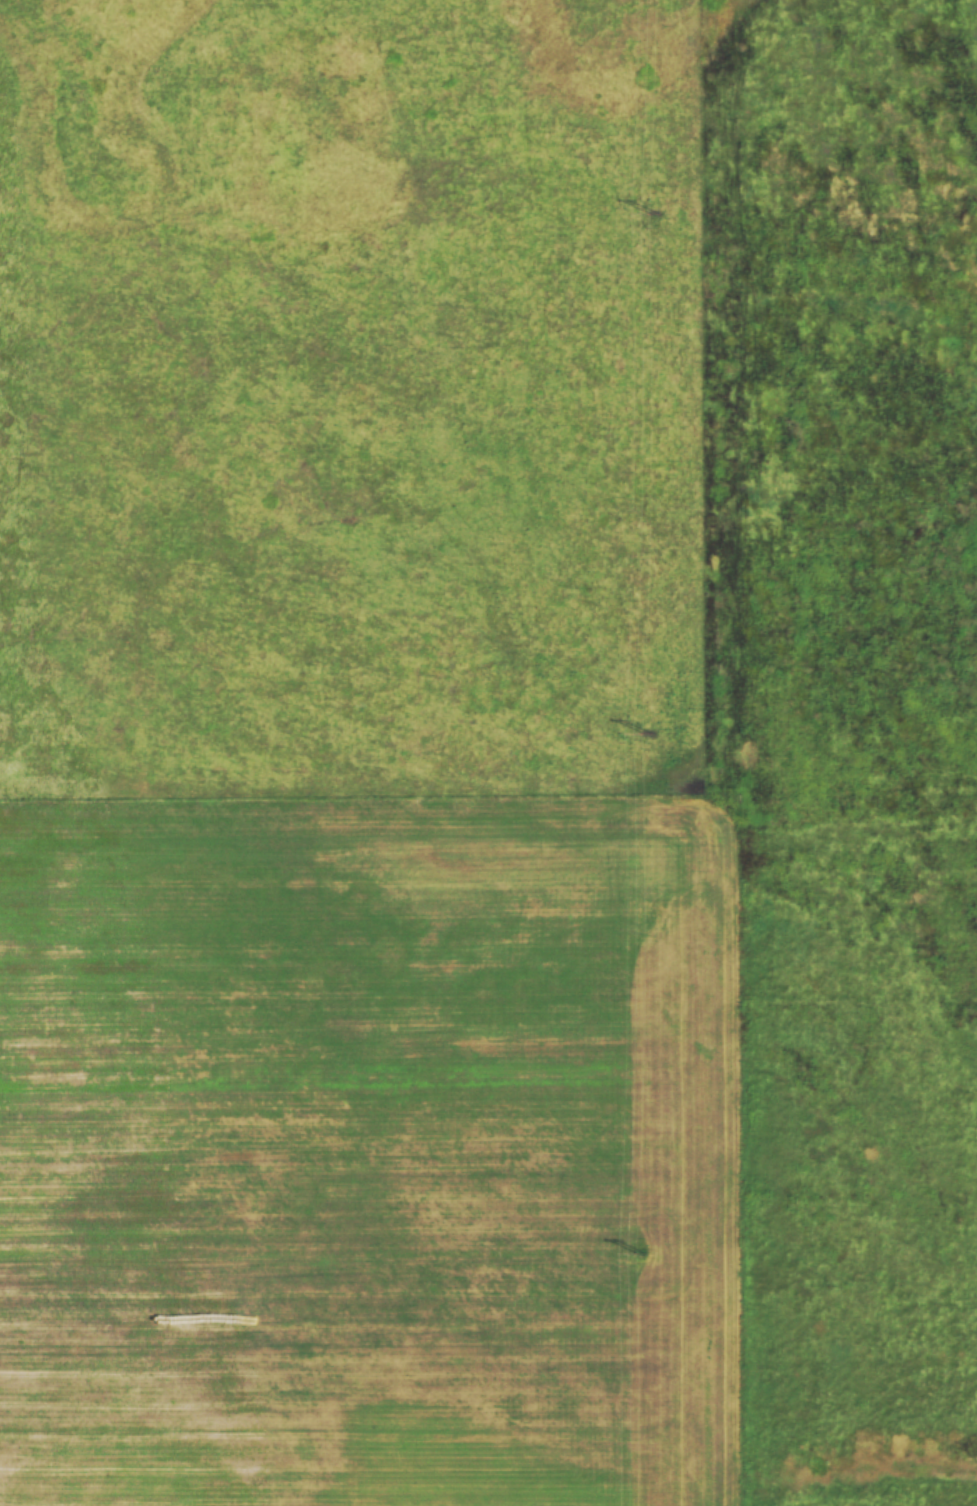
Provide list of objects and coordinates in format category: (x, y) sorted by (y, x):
power tower: (654, 216)
power tower: (647, 735)
road: (688, 753)
power tower: (641, 1255)

